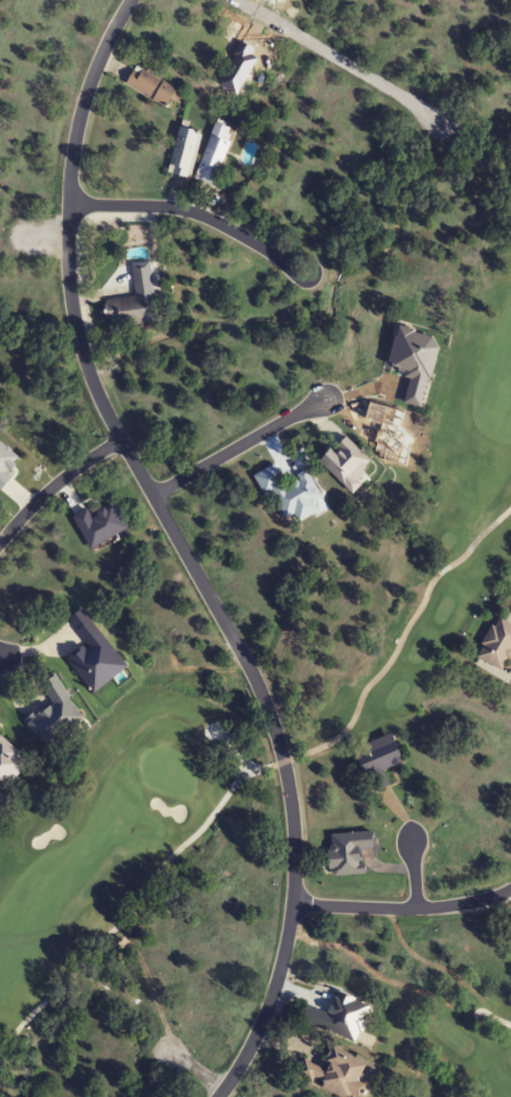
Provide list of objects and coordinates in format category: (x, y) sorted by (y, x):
road: (339, 59)
building: (151, 87)
building: (184, 153)
building: (215, 155)
road: (193, 213)
building: (131, 311)
road: (236, 445)
building: (348, 466)
road: (53, 483)
building: (291, 494)
road: (182, 551)
building: (497, 646)
building: (94, 656)
park: (259, 706)
building: (57, 709)
building: (378, 755)
building: (9, 763)
road: (413, 873)
road: (403, 908)
park: (461, 1032)
road: (198, 1071)
building: (339, 1074)

